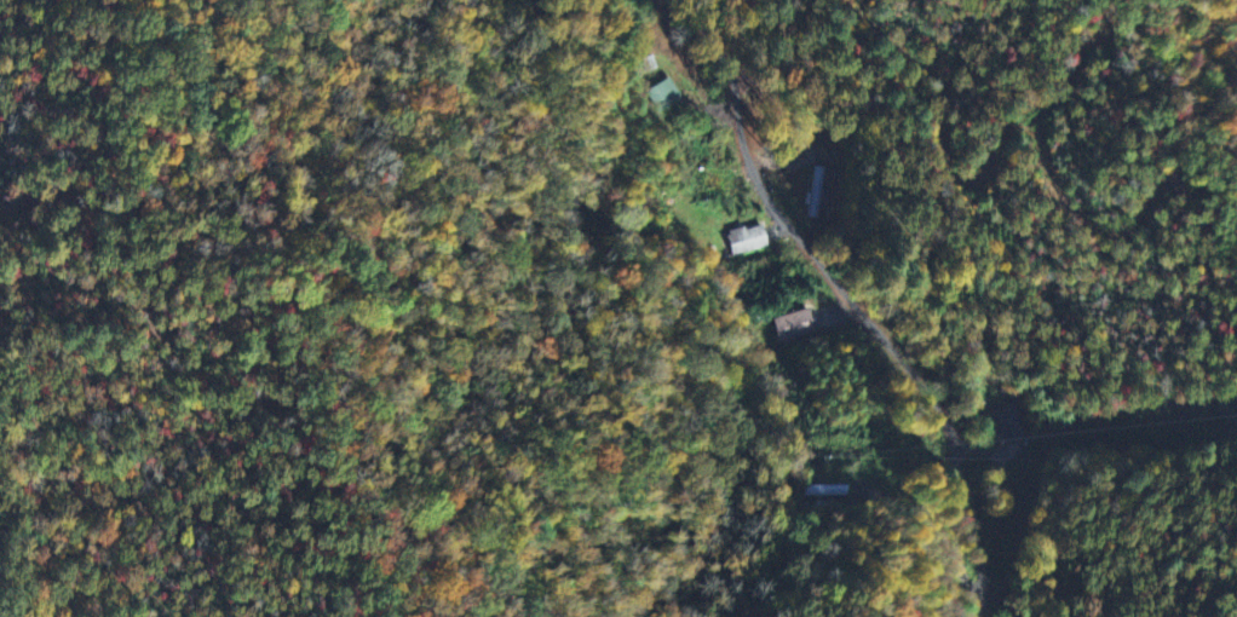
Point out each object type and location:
building: (649, 62)
building: (664, 93)
road: (800, 123)
building: (818, 189)
building: (747, 237)
road: (847, 296)
building: (794, 323)
building: (1012, 422)
building: (823, 489)
road: (945, 536)

